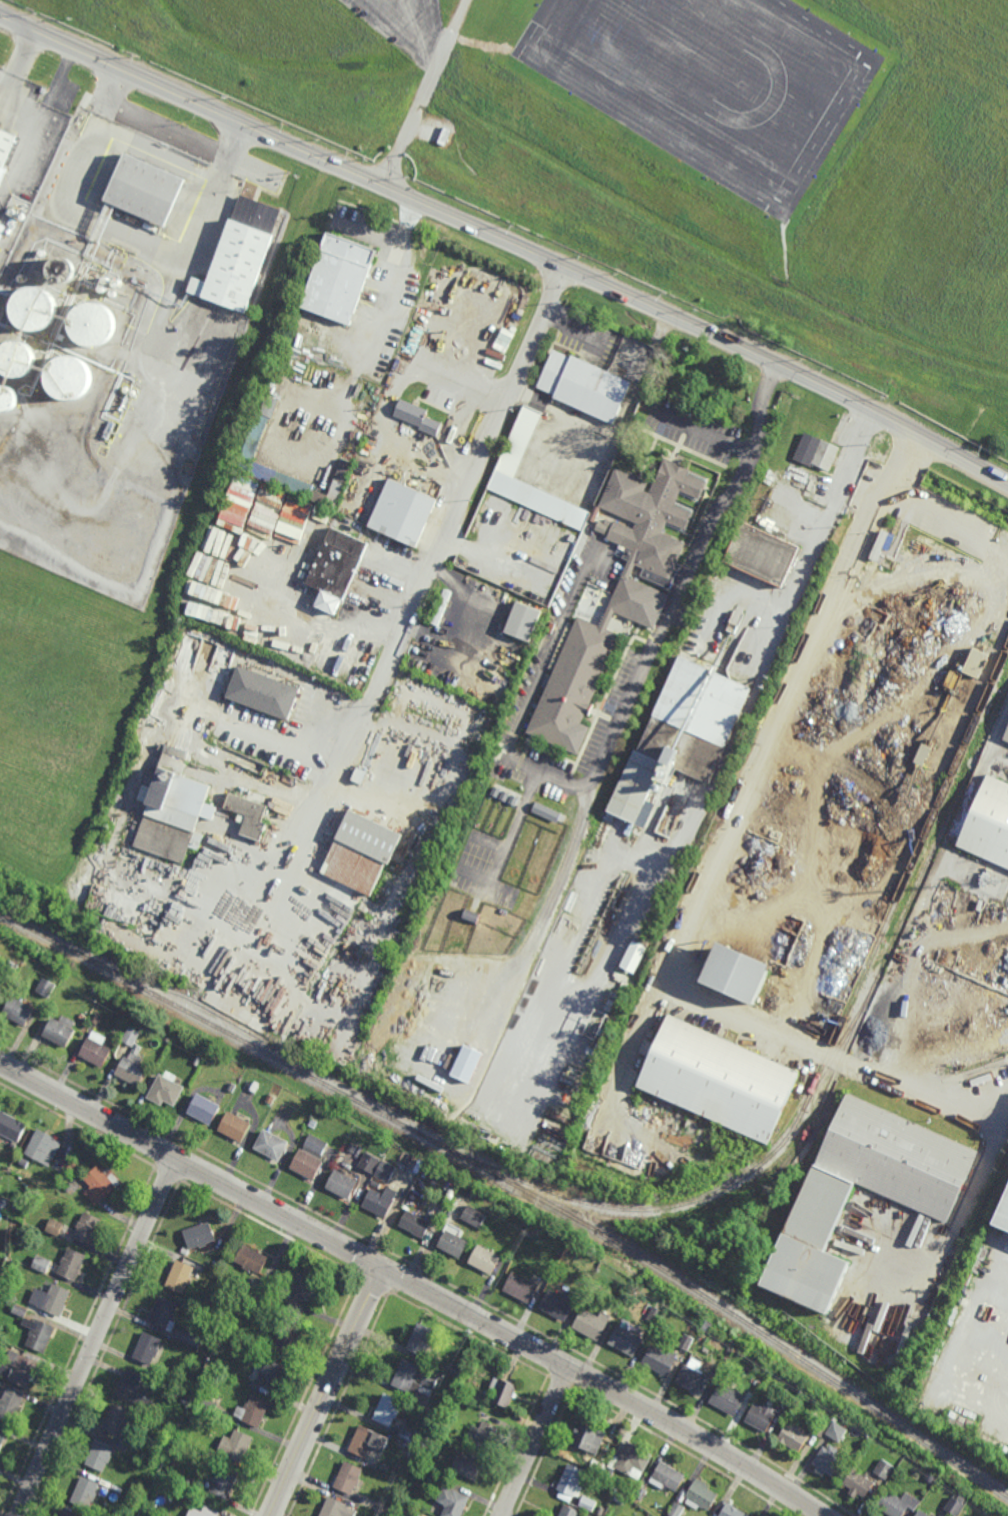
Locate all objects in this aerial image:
road: (167, 132)
building: (445, 137)
building: (6, 145)
building: (147, 187)
building: (10, 210)
storage tank: (10, 210)
building: (21, 215)
storage tank: (21, 215)
building: (2, 230)
road: (508, 240)
building: (240, 254)
road: (394, 263)
building: (61, 269)
storage tank: (61, 269)
building: (339, 276)
building: (106, 279)
storage tank: (106, 279)
building: (117, 282)
storage tank: (117, 282)
building: (102, 288)
storage tank: (102, 288)
building: (113, 293)
storage tank: (113, 293)
building: (34, 308)
storage tank: (34, 308)
building: (92, 323)
storage tank: (92, 323)
building: (18, 357)
storage tank: (18, 357)
building: (70, 376)
storage tank: (70, 376)
building: (584, 385)
building: (126, 388)
storage tank: (126, 388)
building: (133, 391)
storage tank: (133, 391)
building: (9, 397)
storage tank: (9, 397)
road: (391, 400)
building: (270, 406)
building: (418, 416)
road: (704, 431)
building: (255, 439)
building: (518, 444)
building: (817, 451)
road: (853, 457)
road: (470, 484)
building: (403, 512)
building: (884, 540)
building: (763, 554)
road: (807, 562)
building: (336, 568)
building: (617, 593)
building: (441, 607)
building: (524, 621)
building: (975, 662)
building: (824, 676)
building: (262, 692)
road: (621, 712)
building: (682, 735)
building: (1005, 735)
road: (355, 746)
building: (359, 776)
building: (169, 810)
building: (248, 815)
building: (988, 823)
building: (495, 826)
road: (300, 829)
building: (362, 852)
road: (716, 867)
building: (633, 956)
building: (10, 969)
building: (736, 972)
building: (45, 987)
building: (18, 1009)
building: (220, 1014)
building: (95, 1018)
building: (247, 1029)
building: (59, 1030)
building: (131, 1035)
building: (96, 1050)
building: (197, 1060)
building: (133, 1066)
building: (718, 1077)
building: (231, 1087)
building: (166, 1090)
railway: (822, 1095)
building: (269, 1099)
building: (205, 1108)
building: (312, 1124)
building: (236, 1126)
building: (10, 1128)
building: (0, 1139)
building: (3, 1141)
building: (272, 1144)
building: (315, 1144)
building: (352, 1148)
building: (43, 1149)
building: (369, 1163)
building: (307, 1164)
building: (385, 1171)
building: (342, 1184)
building: (99, 1186)
railway: (515, 1186)
building: (68, 1187)
building: (380, 1201)
building: (2, 1203)
building: (823, 1209)
building: (1003, 1214)
building: (439, 1215)
building: (474, 1217)
building: (415, 1224)
building: (54, 1227)
building: (86, 1229)
building: (200, 1236)
building: (453, 1244)
building: (485, 1259)
building: (598, 1259)
building: (251, 1260)
building: (70, 1264)
building: (41, 1265)
building: (587, 1267)
building: (180, 1278)
road: (413, 1287)
building: (302, 1288)
building: (522, 1288)
building: (50, 1300)
building: (559, 1304)
building: (18, 1312)
building: (164, 1314)
building: (655, 1315)
building: (592, 1326)
building: (37, 1336)
road: (98, 1338)
building: (191, 1339)
building: (421, 1340)
building: (286, 1341)
building: (627, 1341)
building: (687, 1342)
building: (147, 1349)
building: (729, 1356)
building: (661, 1360)
building: (434, 1364)
building: (20, 1373)
building: (269, 1376)
building: (695, 1377)
building: (413, 1380)
building: (134, 1390)
road: (330, 1394)
building: (505, 1395)
building: (728, 1399)
building: (183, 1401)
building: (475, 1402)
building: (10, 1405)
building: (254, 1412)
building: (388, 1413)
building: (762, 1417)
building: (116, 1421)
building: (191, 1421)
building: (820, 1428)
building: (187, 1432)
building: (837, 1432)
building: (407, 1435)
building: (486, 1438)
building: (590, 1438)
building: (793, 1438)
building: (1, 1440)
building: (367, 1442)
road: (537, 1442)
building: (235, 1446)
building: (99, 1456)
building: (829, 1461)
building: (635, 1462)
building: (469, 1467)
building: (602, 1468)
building: (884, 1469)
building: (610, 1473)
building: (670, 1477)
building: (930, 1477)
building: (399, 1478)
building: (347, 1479)
building: (572, 1481)
building: (223, 1483)
building: (436, 1483)
building: (858, 1483)
building: (84, 1494)
building: (641, 1494)
building: (702, 1494)
building: (897, 1502)
building: (453, 1503)
building: (590, 1505)
building: (955, 1505)
building: (335, 1509)
building: (676, 1509)
building: (733, 1510)
building: (383, 1511)
building: (601, 1511)
building: (203, 1512)
building: (571, 1512)
building: (411, 1513)
building: (922, 1513)
building: (65, 1514)
building: (607, 1514)
building: (588, 1515)

